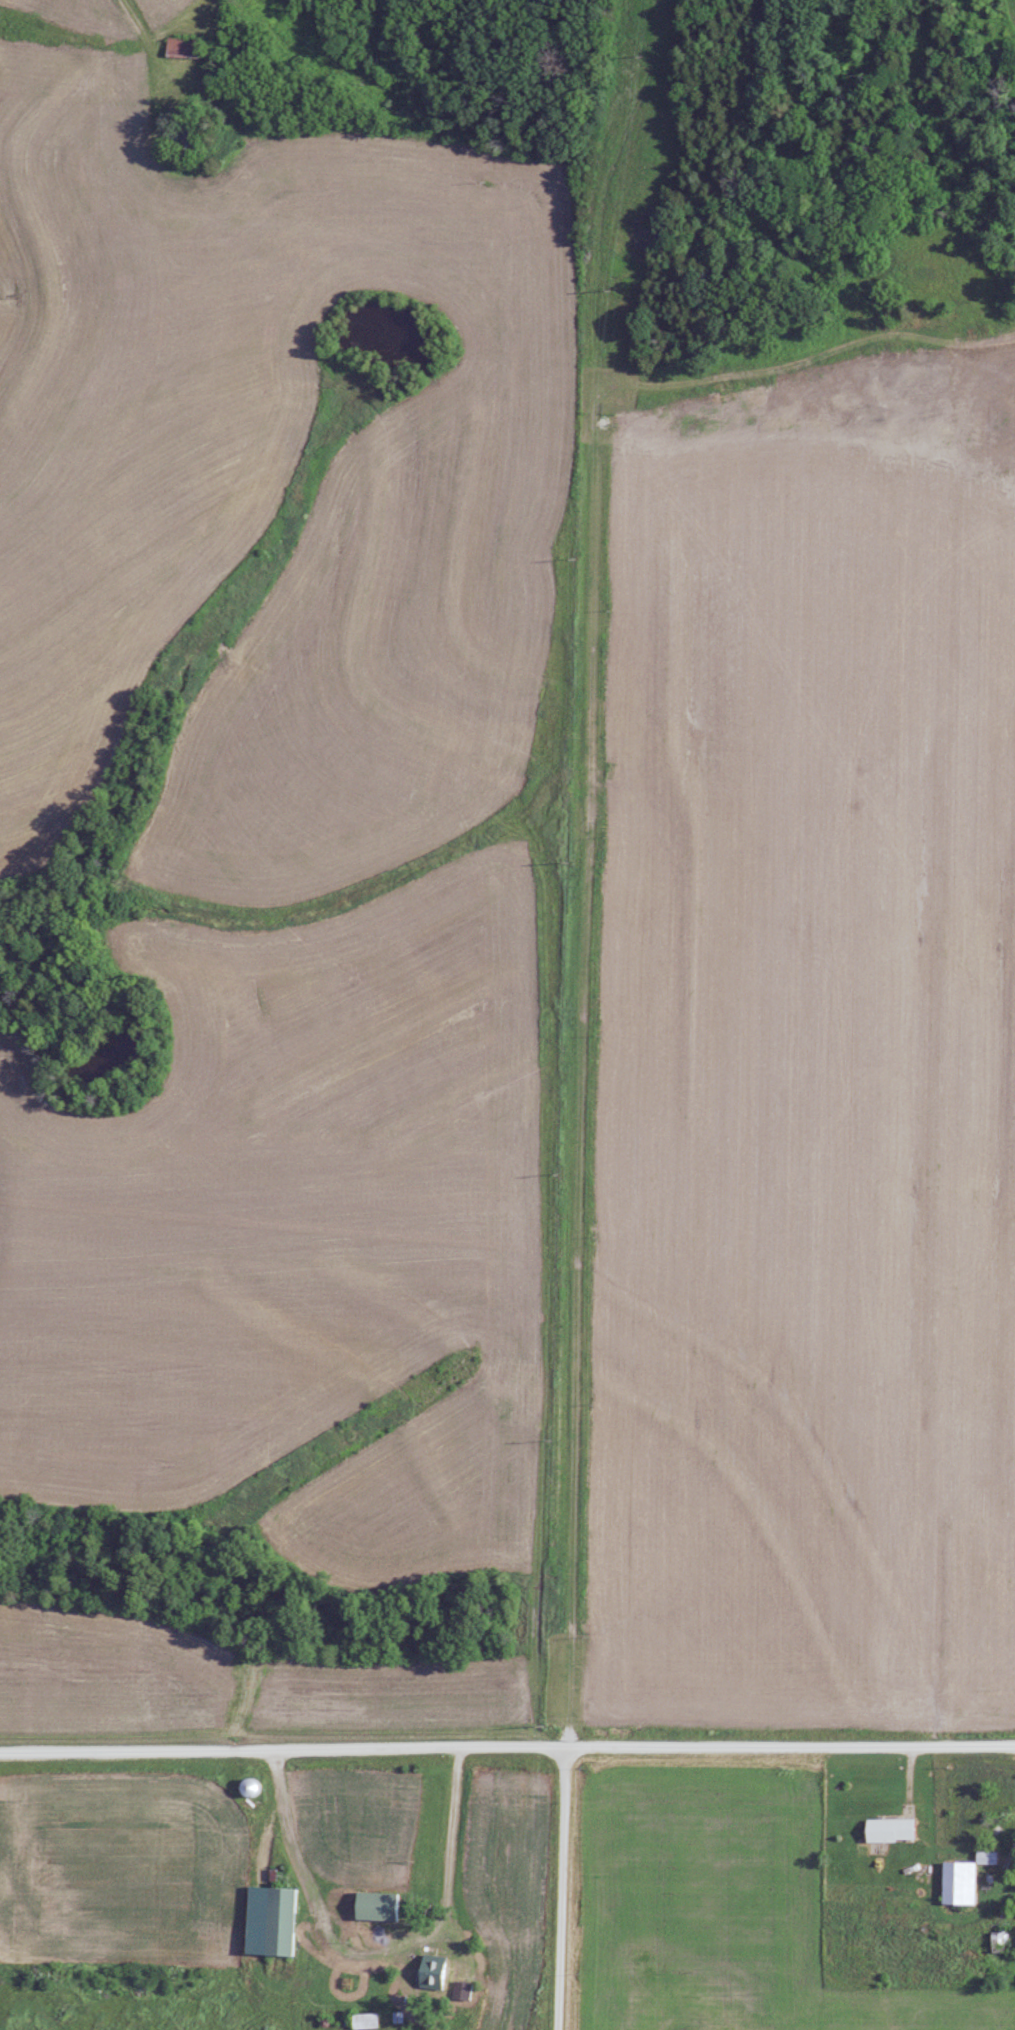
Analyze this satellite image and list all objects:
road: (507, 1746)
building: (250, 1787)
road: (456, 1829)
building: (889, 1829)
road: (563, 1887)
building: (377, 1905)
building: (280, 1921)
building: (433, 1971)
building: (365, 2020)

